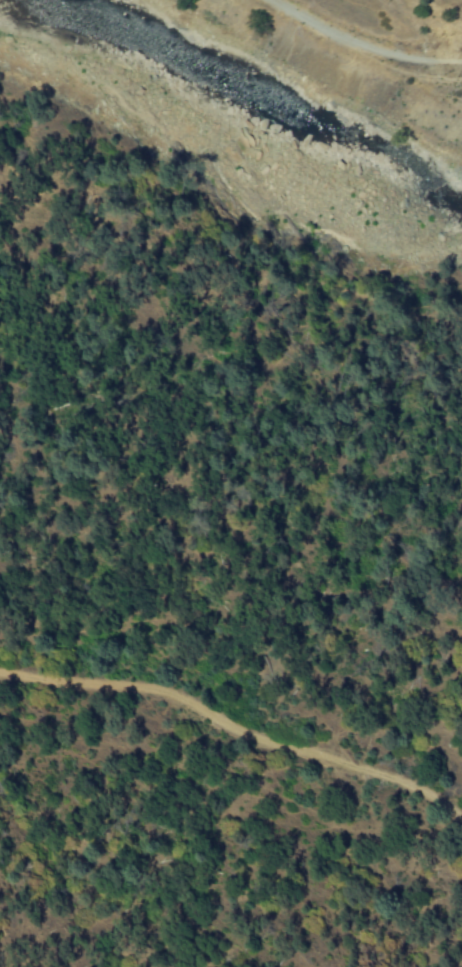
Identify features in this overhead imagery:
road: (365, 41)
river: (269, 117)

